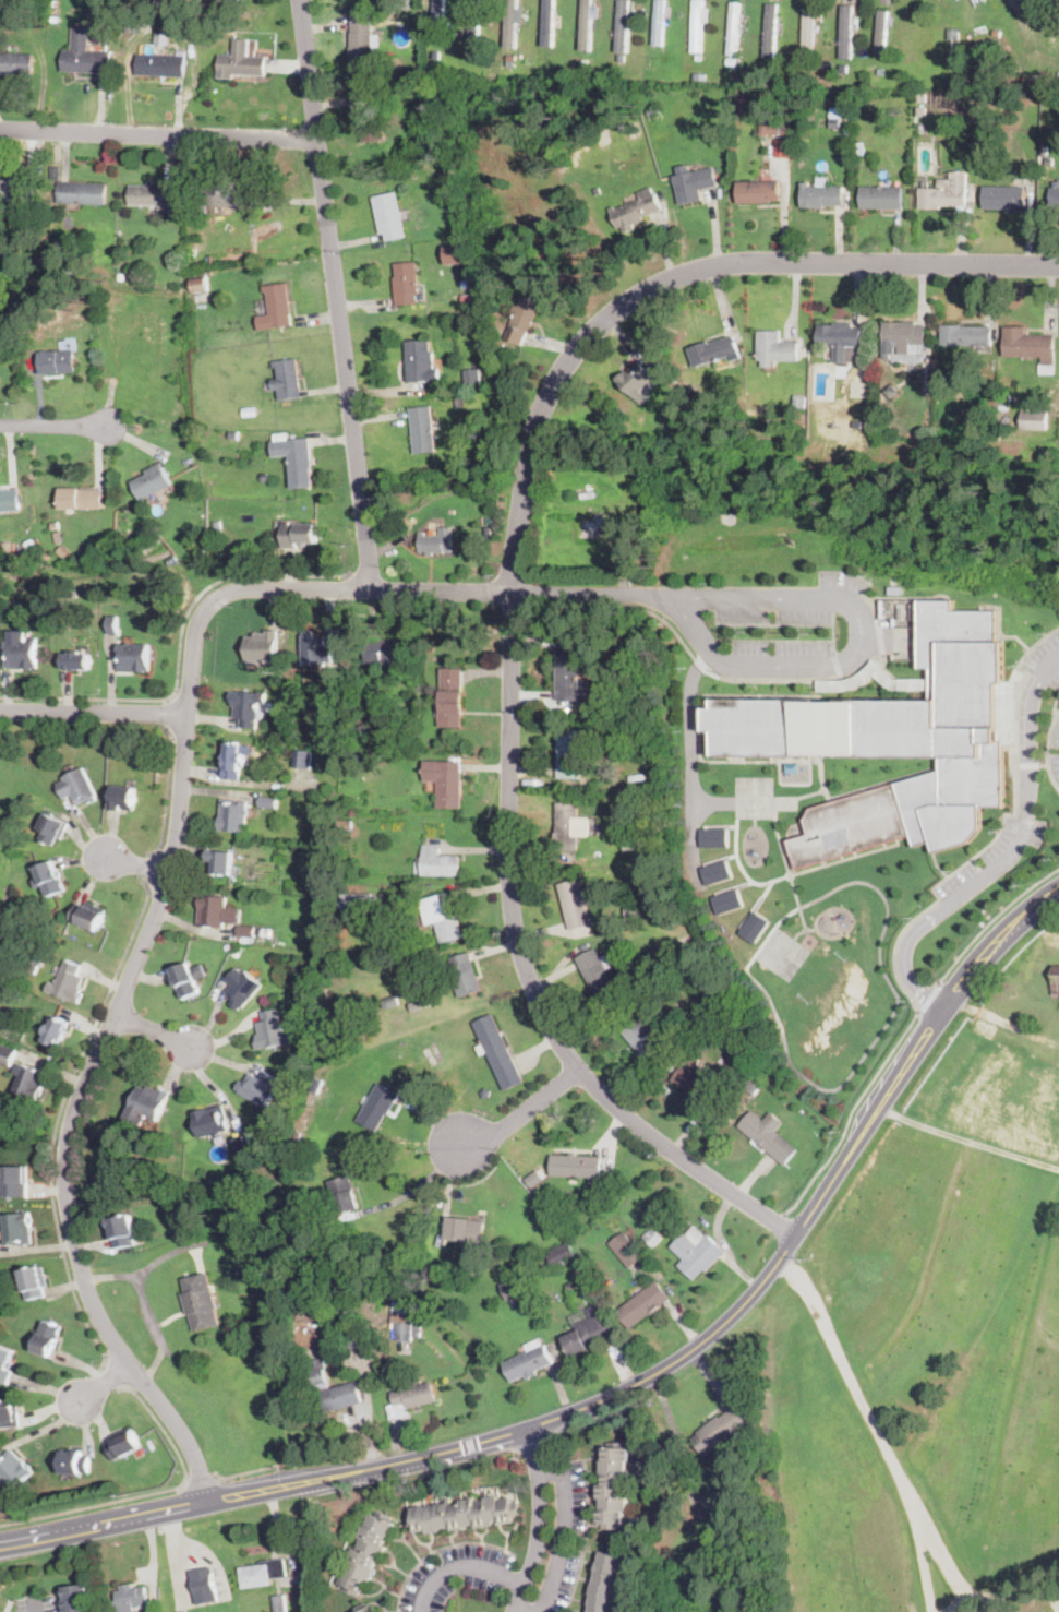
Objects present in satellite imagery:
building: (1035, 1)
building: (1058, 1)
building: (401, 2)
building: (1030, 8)
building: (1044, 10)
building: (474, 20)
building: (547, 21)
building: (437, 22)
building: (660, 22)
building: (853, 23)
building: (510, 24)
building: (586, 24)
building: (697, 25)
building: (622, 26)
building: (734, 28)
building: (770, 29)
building: (809, 32)
building: (881, 33)
building: (844, 34)
building: (953, 34)
building: (362, 39)
building: (838, 41)
building: (474, 49)
building: (84, 55)
building: (510, 55)
building: (621, 56)
building: (698, 56)
building: (237, 60)
building: (16, 63)
building: (161, 64)
building: (260, 65)
building: (880, 70)
building: (697, 73)
building: (948, 82)
building: (922, 97)
building: (653, 110)
building: (922, 110)
building: (372, 121)
building: (835, 122)
building: (941, 127)
building: (769, 128)
building: (787, 129)
road: (158, 134)
building: (782, 147)
building: (859, 148)
building: (452, 170)
building: (57, 172)
building: (694, 184)
building: (597, 189)
building: (17, 190)
building: (758, 191)
building: (82, 192)
building: (946, 192)
building: (148, 193)
building: (1055, 193)
building: (224, 194)
building: (255, 195)
building: (821, 195)
building: (881, 196)
building: (1003, 198)
building: (636, 213)
building: (388, 216)
building: (454, 253)
building: (212, 260)
building: (67, 267)
building: (121, 275)
road: (677, 276)
building: (468, 282)
building: (406, 283)
building: (200, 286)
road: (335, 294)
building: (276, 308)
building: (521, 320)
building: (966, 335)
building: (903, 337)
building: (25, 338)
building: (842, 339)
building: (1031, 346)
building: (775, 347)
building: (982, 349)
building: (715, 350)
building: (59, 360)
building: (418, 360)
building: (472, 375)
building: (287, 378)
building: (636, 379)
building: (927, 381)
building: (951, 381)
building: (857, 389)
building: (891, 389)
building: (1006, 397)
building: (459, 401)
building: (798, 402)
building: (249, 410)
building: (1007, 418)
building: (1035, 419)
road: (52, 425)
building: (423, 429)
building: (474, 433)
building: (234, 435)
building: (296, 458)
building: (641, 474)
building: (264, 477)
building: (153, 480)
building: (81, 498)
building: (9, 500)
building: (56, 524)
building: (298, 534)
building: (57, 535)
building: (436, 541)
building: (21, 546)
building: (63, 551)
building: (84, 552)
building: (898, 589)
road: (649, 594)
building: (12, 602)
building: (112, 624)
building: (265, 646)
building: (249, 648)
road: (179, 649)
building: (315, 649)
road: (864, 649)
building: (22, 653)
building: (387, 654)
building: (134, 657)
building: (76, 660)
road: (700, 662)
building: (568, 674)
building: (452, 697)
building: (255, 706)
building: (242, 707)
road: (172, 713)
road: (92, 714)
building: (628, 732)
building: (893, 740)
road: (1047, 742)
road: (691, 750)
building: (372, 752)
building: (569, 754)
building: (302, 759)
building: (233, 762)
building: (794, 766)
building: (637, 778)
building: (445, 781)
building: (77, 786)
road: (167, 796)
building: (122, 798)
road: (1027, 798)
building: (268, 801)
building: (233, 814)
building: (344, 824)
building: (569, 826)
building: (52, 827)
road: (1000, 831)
building: (713, 836)
building: (634, 843)
building: (220, 861)
building: (438, 861)
road: (136, 865)
road: (149, 869)
road: (169, 869)
building: (717, 871)
building: (48, 879)
building: (726, 900)
building: (356, 901)
building: (576, 903)
building: (633, 910)
building: (217, 911)
building: (88, 915)
building: (443, 916)
building: (674, 920)
road: (992, 920)
building: (754, 926)
building: (243, 930)
building: (261, 930)
building: (252, 931)
building: (237, 950)
road: (905, 963)
building: (35, 964)
building: (597, 970)
building: (465, 975)
road: (526, 976)
building: (185, 980)
building: (1055, 980)
building: (68, 982)
building: (253, 986)
building: (239, 988)
road: (893, 989)
road: (929, 999)
building: (390, 1002)
building: (713, 1015)
road: (1007, 1022)
building: (56, 1029)
building: (272, 1030)
road: (152, 1031)
building: (642, 1038)
building: (497, 1050)
building: (7, 1054)
building: (432, 1055)
building: (707, 1060)
building: (696, 1080)
building: (29, 1082)
building: (750, 1087)
building: (243, 1088)
building: (262, 1088)
building: (486, 1092)
building: (149, 1101)
building: (377, 1107)
road: (850, 1113)
road: (517, 1119)
building: (210, 1121)
road: (57, 1122)
building: (769, 1134)
road: (970, 1141)
building: (239, 1144)
building: (577, 1167)
road: (753, 1177)
building: (531, 1180)
building: (14, 1181)
road: (409, 1193)
building: (342, 1194)
road: (780, 1219)
building: (19, 1228)
building: (465, 1229)
building: (121, 1230)
building: (652, 1238)
building: (626, 1250)
building: (562, 1253)
building: (697, 1254)
building: (240, 1270)
building: (413, 1271)
building: (34, 1281)
building: (401, 1282)
building: (570, 1286)
building: (510, 1289)
building: (200, 1301)
building: (642, 1304)
road: (145, 1305)
building: (401, 1321)
building: (588, 1329)
building: (418, 1330)
building: (359, 1337)
building: (48, 1338)
building: (529, 1361)
building: (5, 1364)
road: (116, 1374)
road: (105, 1383)
road: (634, 1385)
building: (334, 1387)
building: (411, 1397)
building: (9, 1414)
road: (877, 1426)
building: (721, 1429)
building: (122, 1445)
building: (74, 1462)
building: (13, 1468)
road: (245, 1472)
road: (203, 1480)
building: (614, 1486)
road: (155, 1493)
building: (464, 1515)
road: (539, 1521)
road: (565, 1529)
building: (368, 1553)
road: (461, 1565)
road: (946, 1566)
building: (262, 1573)
building: (724, 1575)
building: (605, 1583)
building: (204, 1584)
road: (1046, 1591)
road: (998, 1592)
building: (76, 1598)
building: (130, 1598)
building: (279, 1603)
road: (35, 1604)
building: (369, 1610)
road: (522, 1610)
building: (184, 1611)

